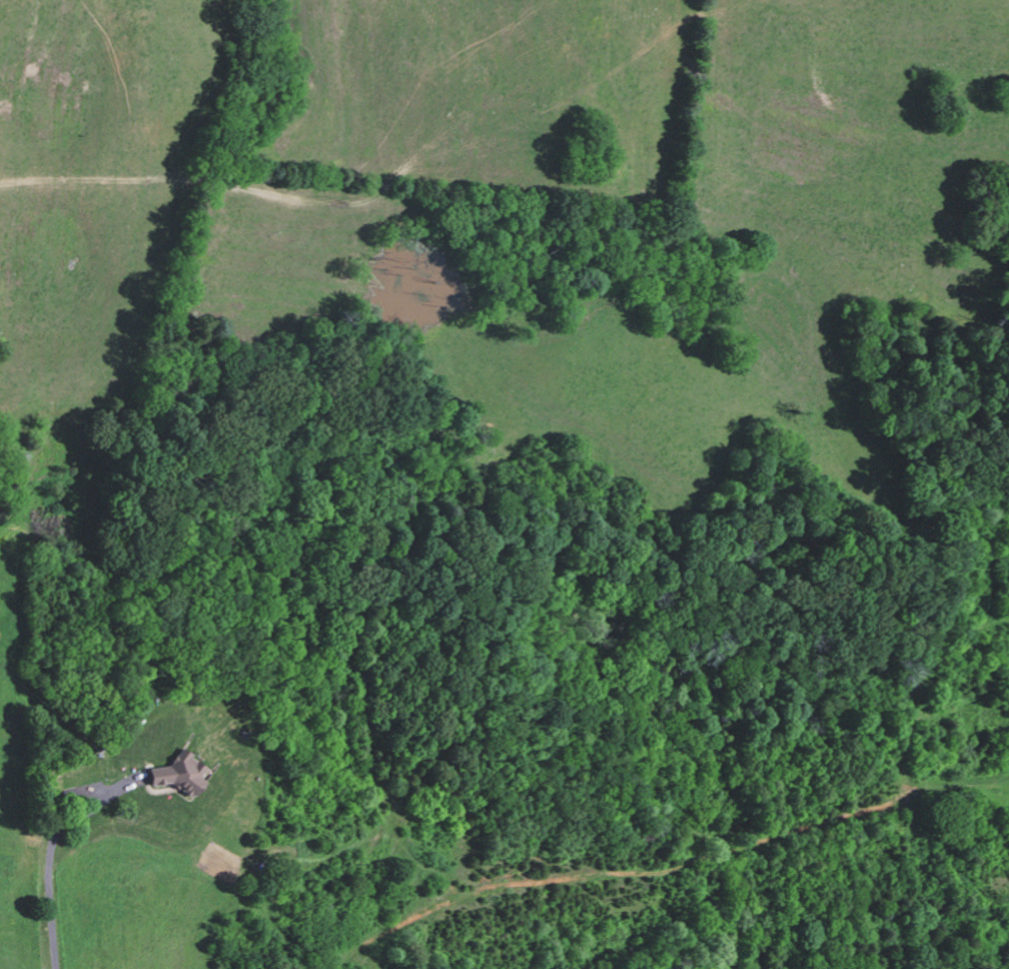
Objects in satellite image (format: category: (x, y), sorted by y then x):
building: (180, 772)
road: (51, 906)

